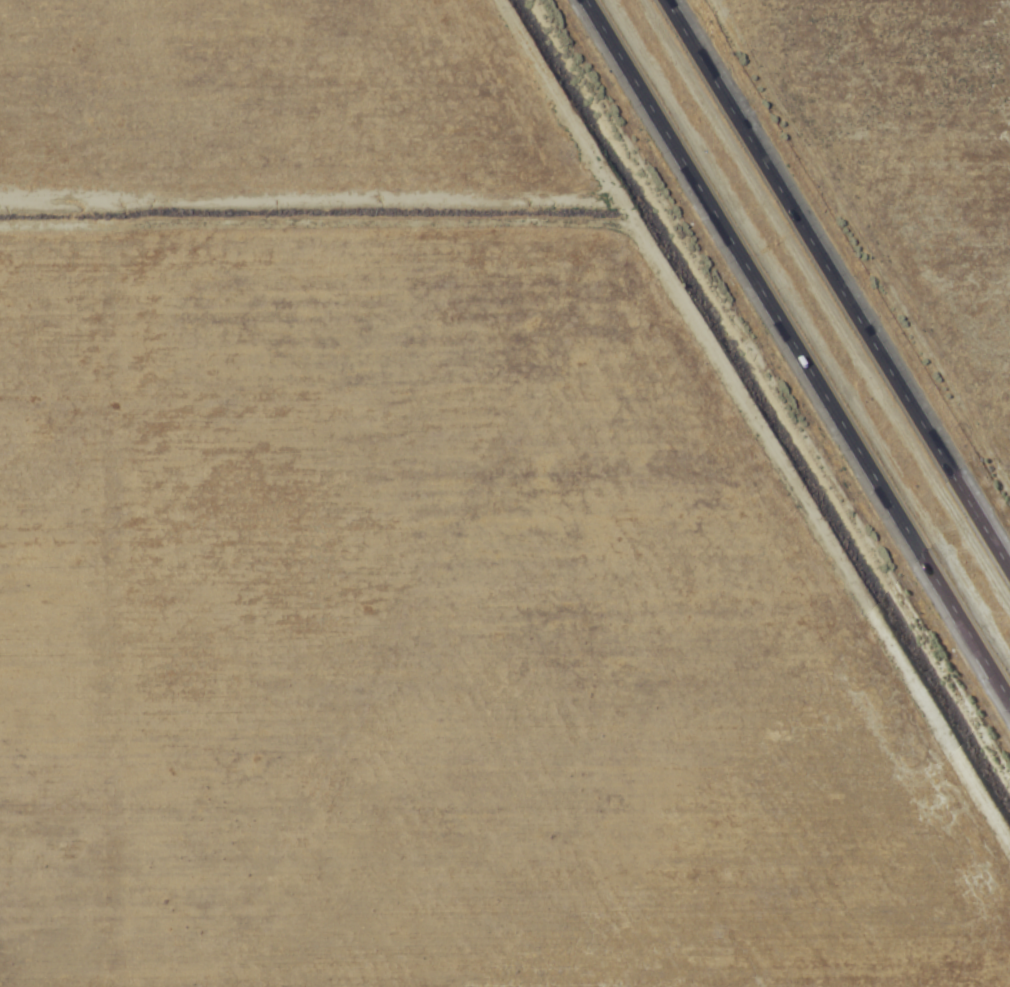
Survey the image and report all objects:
road: (839, 281)
road: (798, 349)

